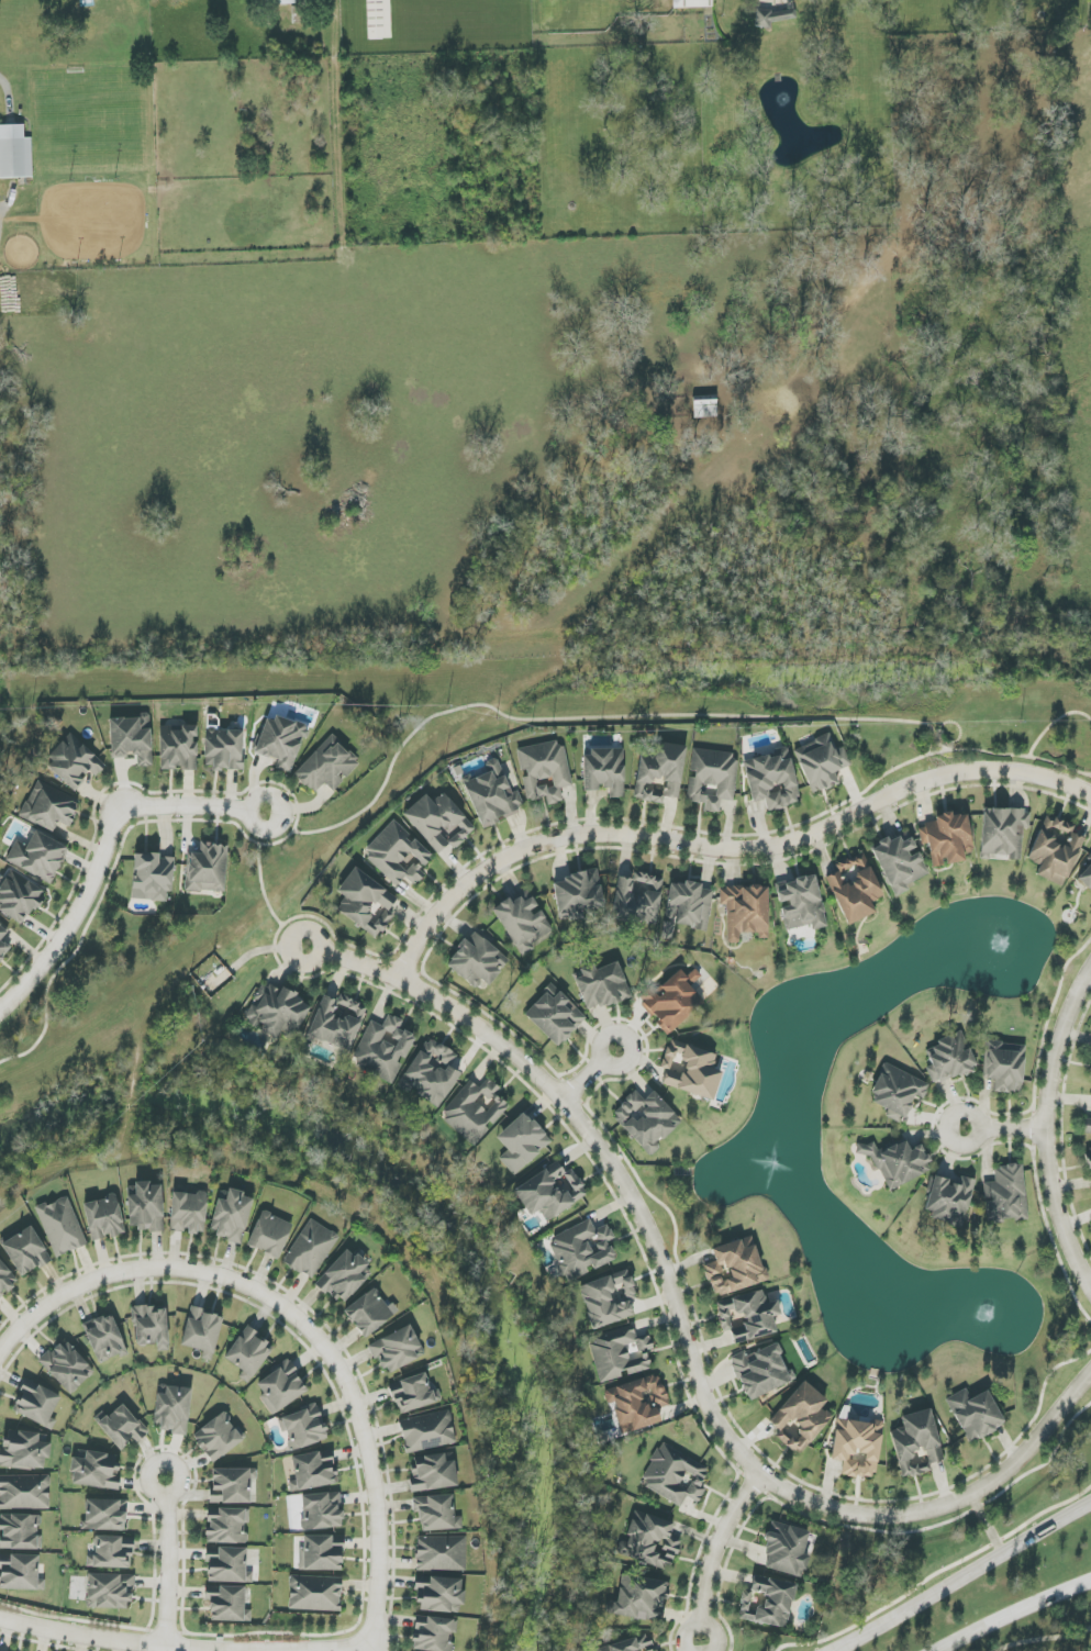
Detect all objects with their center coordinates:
building: (283, 0)
road: (335, 1)
building: (691, 3)
building: (771, 16)
road: (5, 86)
building: (14, 153)
road: (571, 718)
road: (1053, 723)
road: (934, 736)
building: (132, 739)
building: (280, 741)
building: (178, 748)
building: (223, 749)
road: (969, 750)
building: (74, 762)
building: (821, 762)
building: (326, 766)
building: (544, 771)
building: (604, 771)
building: (659, 772)
building: (711, 778)
building: (772, 780)
road: (853, 790)
building: (492, 795)
building: (49, 806)
building: (438, 822)
building: (1003, 832)
building: (947, 838)
road: (722, 849)
road: (102, 850)
building: (1055, 850)
building: (398, 855)
building: (38, 857)
building: (899, 862)
building: (207, 868)
building: (153, 877)
building: (1086, 877)
road: (263, 886)
building: (854, 888)
building: (577, 895)
building: (19, 896)
building: (637, 899)
building: (366, 903)
building: (800, 903)
building: (687, 907)
building: (745, 911)
building: (523, 922)
building: (2, 944)
fountain: (998, 945)
building: (477, 961)
building: (602, 985)
building: (671, 1000)
building: (277, 1011)
building: (555, 1016)
building: (337, 1022)
building: (383, 1049)
building: (949, 1058)
building: (1004, 1066)
building: (690, 1070)
building: (433, 1072)
road: (586, 1073)
building: (1090, 1074)
building: (897, 1092)
building: (475, 1111)
building: (646, 1119)
building: (1087, 1126)
road: (1043, 1129)
road: (1002, 1131)
building: (521, 1142)
building: (1090, 1158)
fountain: (773, 1162)
building: (898, 1162)
building: (550, 1191)
building: (1005, 1194)
building: (949, 1201)
building: (146, 1207)
building: (188, 1212)
building: (231, 1216)
building: (103, 1218)
building: (62, 1226)
building: (269, 1235)
building: (311, 1249)
building: (582, 1250)
building: (25, 1251)
building: (735, 1267)
building: (345, 1276)
building: (5, 1280)
building: (609, 1298)
building: (368, 1313)
fountain: (986, 1314)
building: (747, 1316)
building: (151, 1326)
road: (300, 1326)
road: (682, 1330)
building: (201, 1331)
building: (104, 1338)
building: (397, 1349)
building: (620, 1353)
building: (248, 1354)
building: (67, 1366)
building: (761, 1371)
building: (281, 1387)
building: (413, 1394)
building: (637, 1403)
building: (36, 1404)
building: (172, 1409)
building: (975, 1414)
building: (800, 1418)
building: (121, 1427)
building: (304, 1428)
building: (427, 1431)
building: (218, 1437)
building: (916, 1443)
building: (857, 1447)
building: (23, 1451)
building: (94, 1471)
building: (313, 1471)
building: (433, 1473)
building: (675, 1476)
building: (232, 1485)
building: (24, 1492)
building: (321, 1511)
building: (436, 1513)
building: (104, 1515)
road: (987, 1526)
building: (227, 1527)
building: (20, 1531)
building: (650, 1541)
building: (786, 1550)
building: (112, 1552)
road: (713, 1552)
building: (322, 1553)
building: (441, 1553)
road: (164, 1560)
building: (20, 1573)
road: (959, 1581)
building: (110, 1591)
building: (315, 1593)
building: (439, 1594)
building: (639, 1598)
building: (767, 1602)
building: (226, 1604)
road: (1013, 1613)
building: (433, 1635)
road: (1045, 1639)
road: (123, 1641)
building: (632, 1644)

